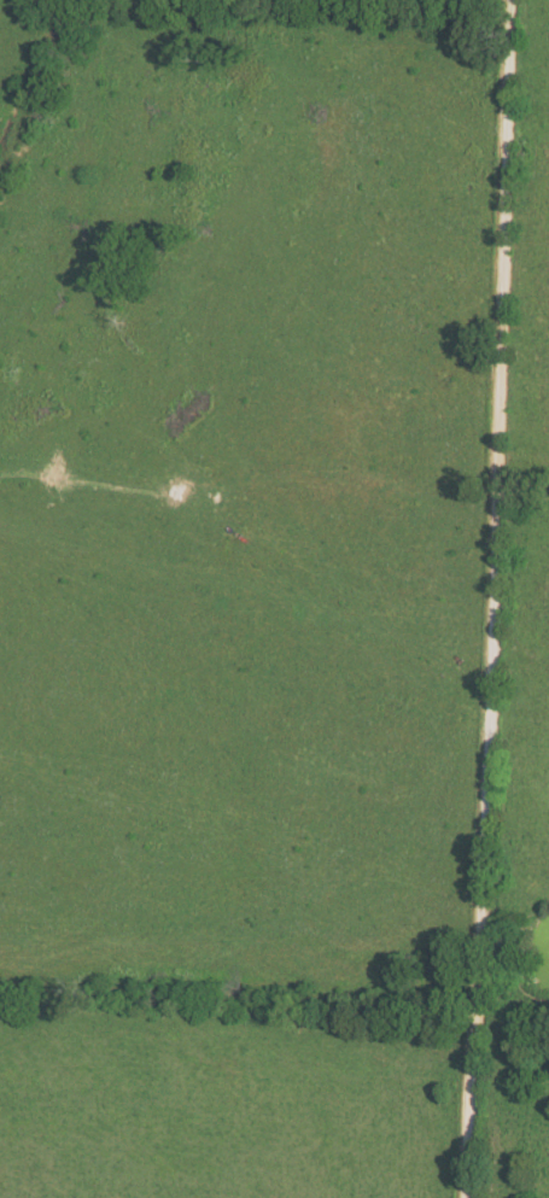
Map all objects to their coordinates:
road: (274, 484)
road: (492, 598)

